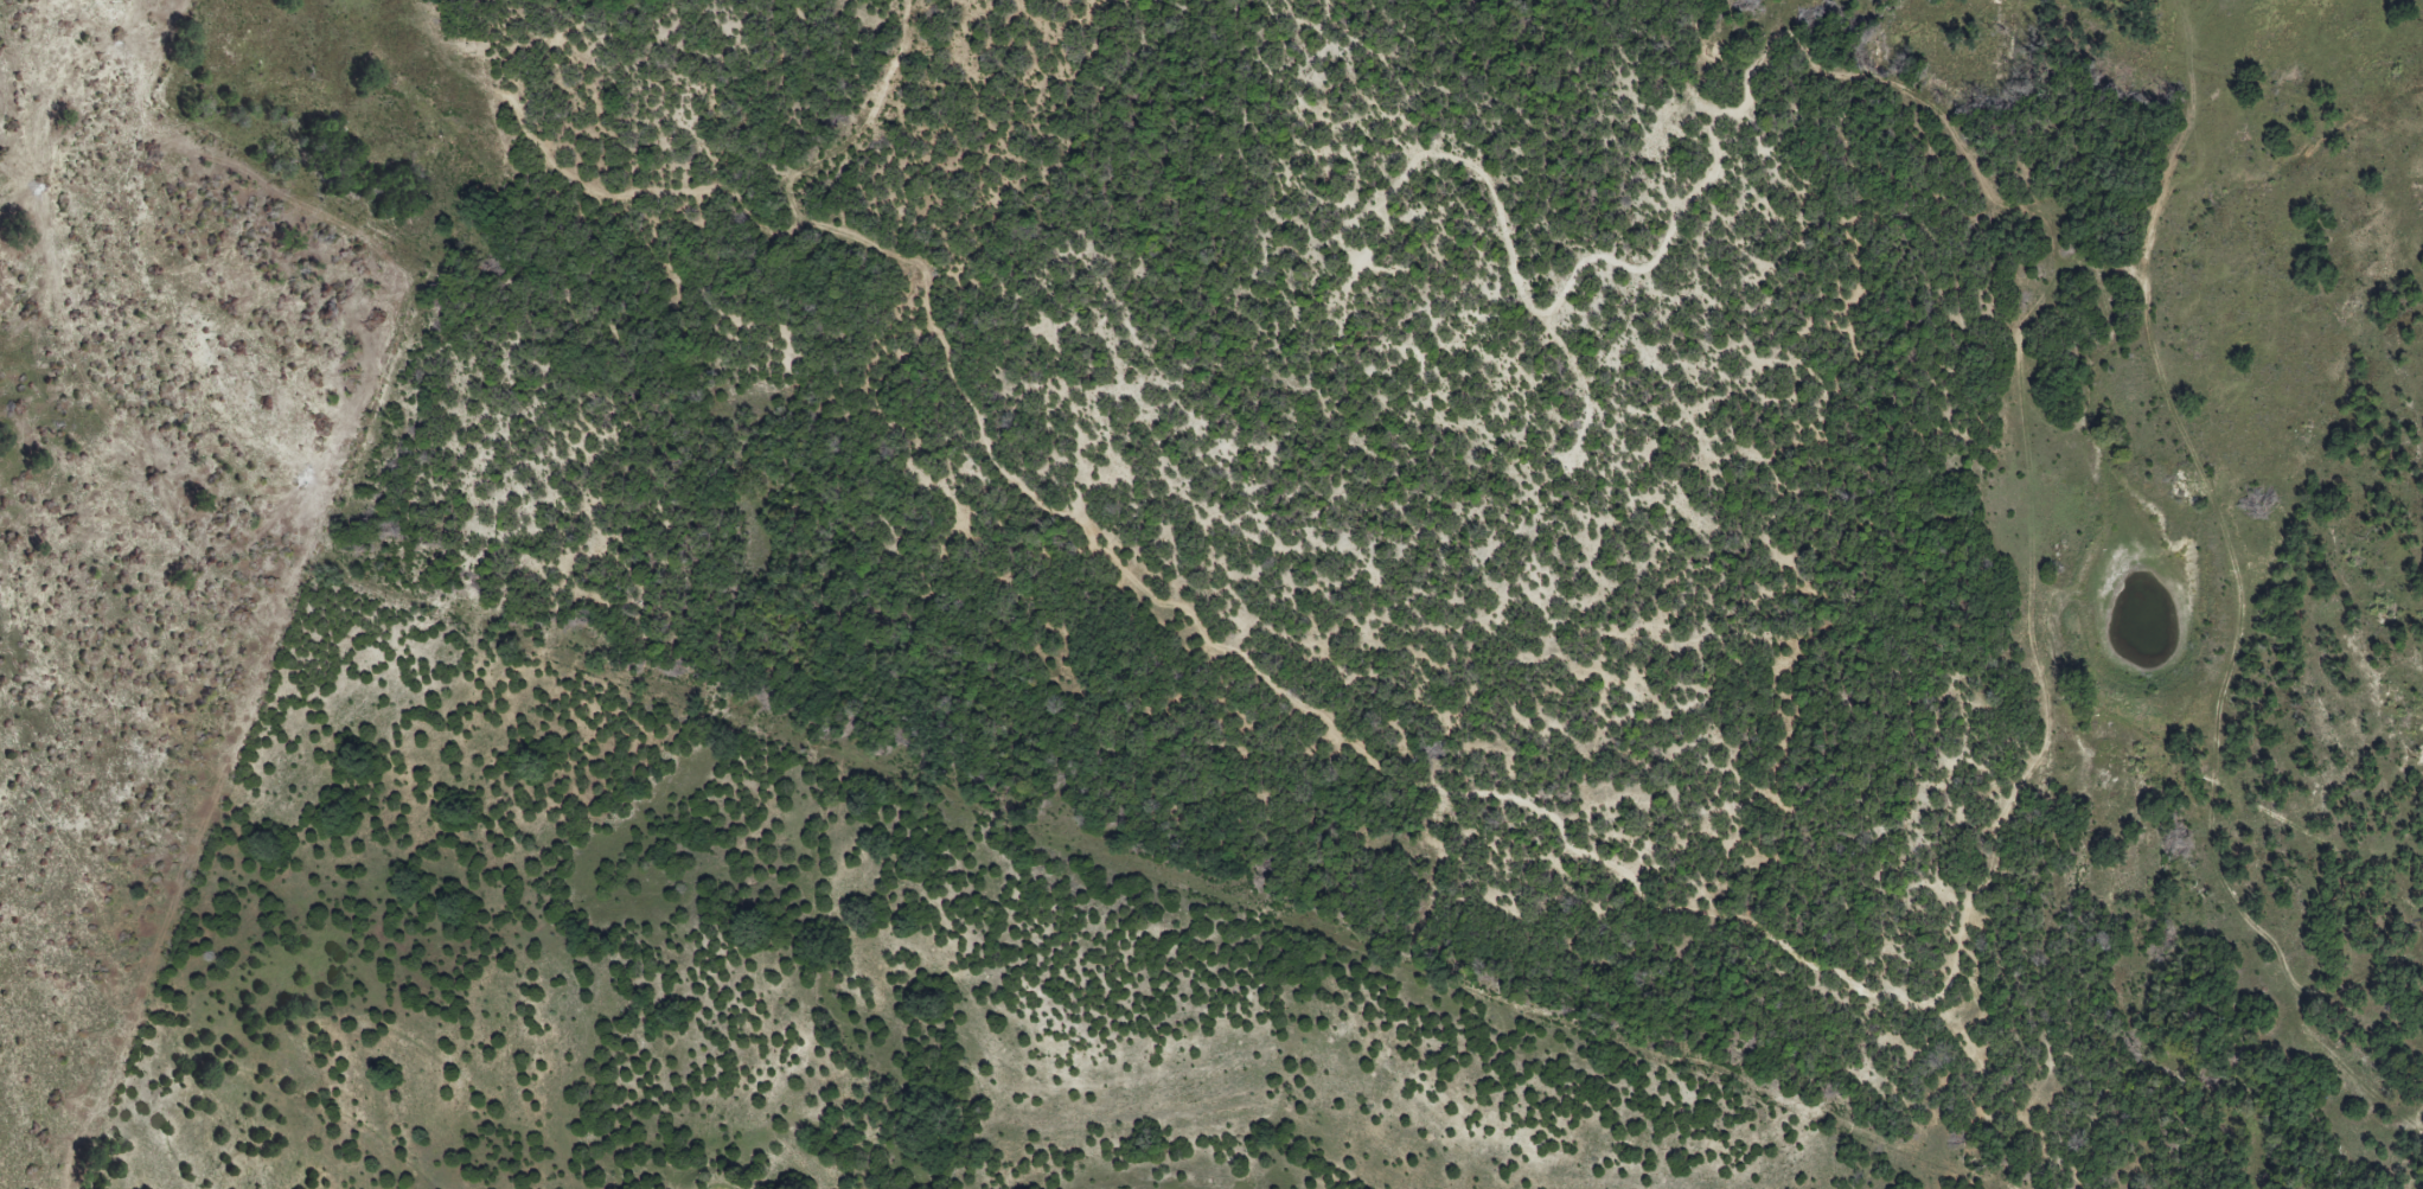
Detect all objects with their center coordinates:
road: (2213, 613)
road: (2417, 1121)

